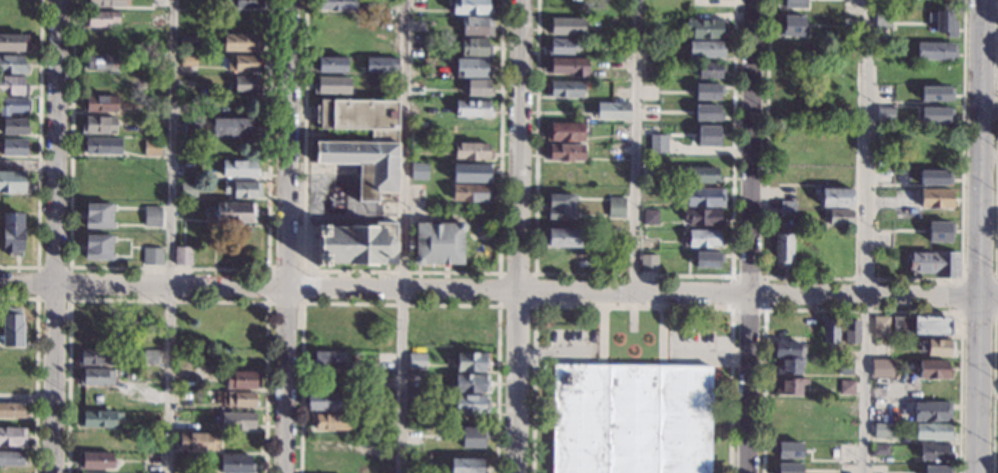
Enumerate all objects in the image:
building: (795, 2)
building: (103, 3)
building: (244, 4)
building: (335, 4)
building: (470, 7)
building: (882, 18)
building: (99, 19)
building: (946, 20)
building: (794, 24)
building: (476, 26)
building: (565, 26)
building: (705, 28)
building: (187, 40)
building: (13, 43)
building: (240, 43)
building: (562, 46)
building: (474, 47)
building: (705, 49)
building: (935, 51)
building: (187, 60)
building: (101, 61)
building: (242, 63)
building: (12, 65)
building: (331, 65)
building: (380, 65)
building: (566, 66)
building: (470, 68)
building: (710, 70)
road: (864, 70)
building: (244, 84)
building: (331, 85)
building: (12, 86)
building: (476, 88)
building: (563, 89)
building: (708, 90)
building: (938, 91)
building: (100, 104)
building: (13, 106)
building: (471, 108)
building: (610, 111)
building: (708, 111)
building: (937, 112)
building: (885, 114)
building: (98, 125)
building: (13, 126)
building: (233, 127)
building: (192, 129)
building: (563, 131)
building: (710, 134)
road: (994, 140)
road: (287, 143)
building: (658, 143)
building: (362, 144)
road: (635, 145)
building: (100, 146)
road: (752, 146)
building: (12, 147)
building: (150, 147)
road: (982, 149)
road: (39, 151)
building: (471, 151)
building: (563, 152)
road: (27, 162)
building: (239, 169)
building: (418, 170)
building: (471, 174)
building: (650, 174)
building: (698, 175)
building: (935, 176)
building: (13, 182)
building: (242, 189)
building: (187, 190)
building: (470, 193)
building: (704, 197)
building: (835, 198)
building: (935, 198)
building: (559, 207)
building: (615, 208)
building: (787, 208)
building: (234, 213)
building: (97, 216)
building: (837, 216)
building: (151, 217)
building: (649, 217)
building: (701, 217)
road: (862, 217)
building: (940, 230)
building: (11, 235)
road: (52, 236)
road: (170, 236)
road: (403, 236)
road: (519, 236)
building: (560, 238)
building: (703, 239)
building: (356, 244)
building: (438, 244)
building: (96, 247)
building: (782, 250)
building: (183, 256)
building: (151, 257)
building: (707, 258)
building: (648, 261)
building: (935, 264)
road: (168, 266)
road: (70, 267)
road: (301, 268)
road: (402, 269)
road: (534, 272)
road: (634, 274)
road: (765, 277)
road: (864, 278)
road: (977, 278)
road: (143, 285)
road: (518, 290)
road: (995, 294)
road: (961, 295)
road: (864, 296)
road: (988, 298)
road: (166, 299)
road: (398, 302)
road: (632, 305)
road: (861, 308)
road: (977, 310)
building: (812, 322)
flagpole: (632, 323)
building: (920, 326)
building: (12, 327)
building: (880, 327)
building: (848, 330)
building: (829, 332)
road: (602, 335)
road: (661, 335)
parking lot: (572, 343)
parking lot: (697, 345)
building: (936, 348)
building: (786, 349)
road: (552, 352)
road: (711, 352)
building: (95, 357)
building: (150, 357)
building: (203, 359)
building: (223, 359)
building: (328, 360)
building: (416, 361)
building: (471, 362)
road: (568, 362)
road: (695, 363)
road: (35, 365)
building: (788, 366)
building: (844, 366)
building: (880, 367)
building: (932, 370)
building: (96, 377)
road: (285, 380)
building: (413, 380)
building: (242, 381)
building: (470, 383)
road: (748, 383)
building: (192, 384)
road: (862, 384)
road: (978, 385)
building: (788, 386)
building: (846, 387)
road: (994, 389)
road: (25, 397)
building: (239, 399)
building: (327, 401)
building: (415, 402)
building: (470, 404)
building: (879, 407)
building: (11, 411)
building: (931, 411)
building: (97, 419)
building: (630, 419)
building: (237, 422)
building: (328, 422)
building: (883, 431)
building: (932, 432)
building: (473, 436)
building: (12, 437)
building: (197, 442)
building: (382, 443)
building: (789, 448)
building: (880, 450)
building: (935, 452)
building: (10, 458)
building: (95, 461)
building: (235, 464)
building: (466, 465)
building: (788, 467)
building: (938, 468)
building: (92, 472)
building: (997, 472)

